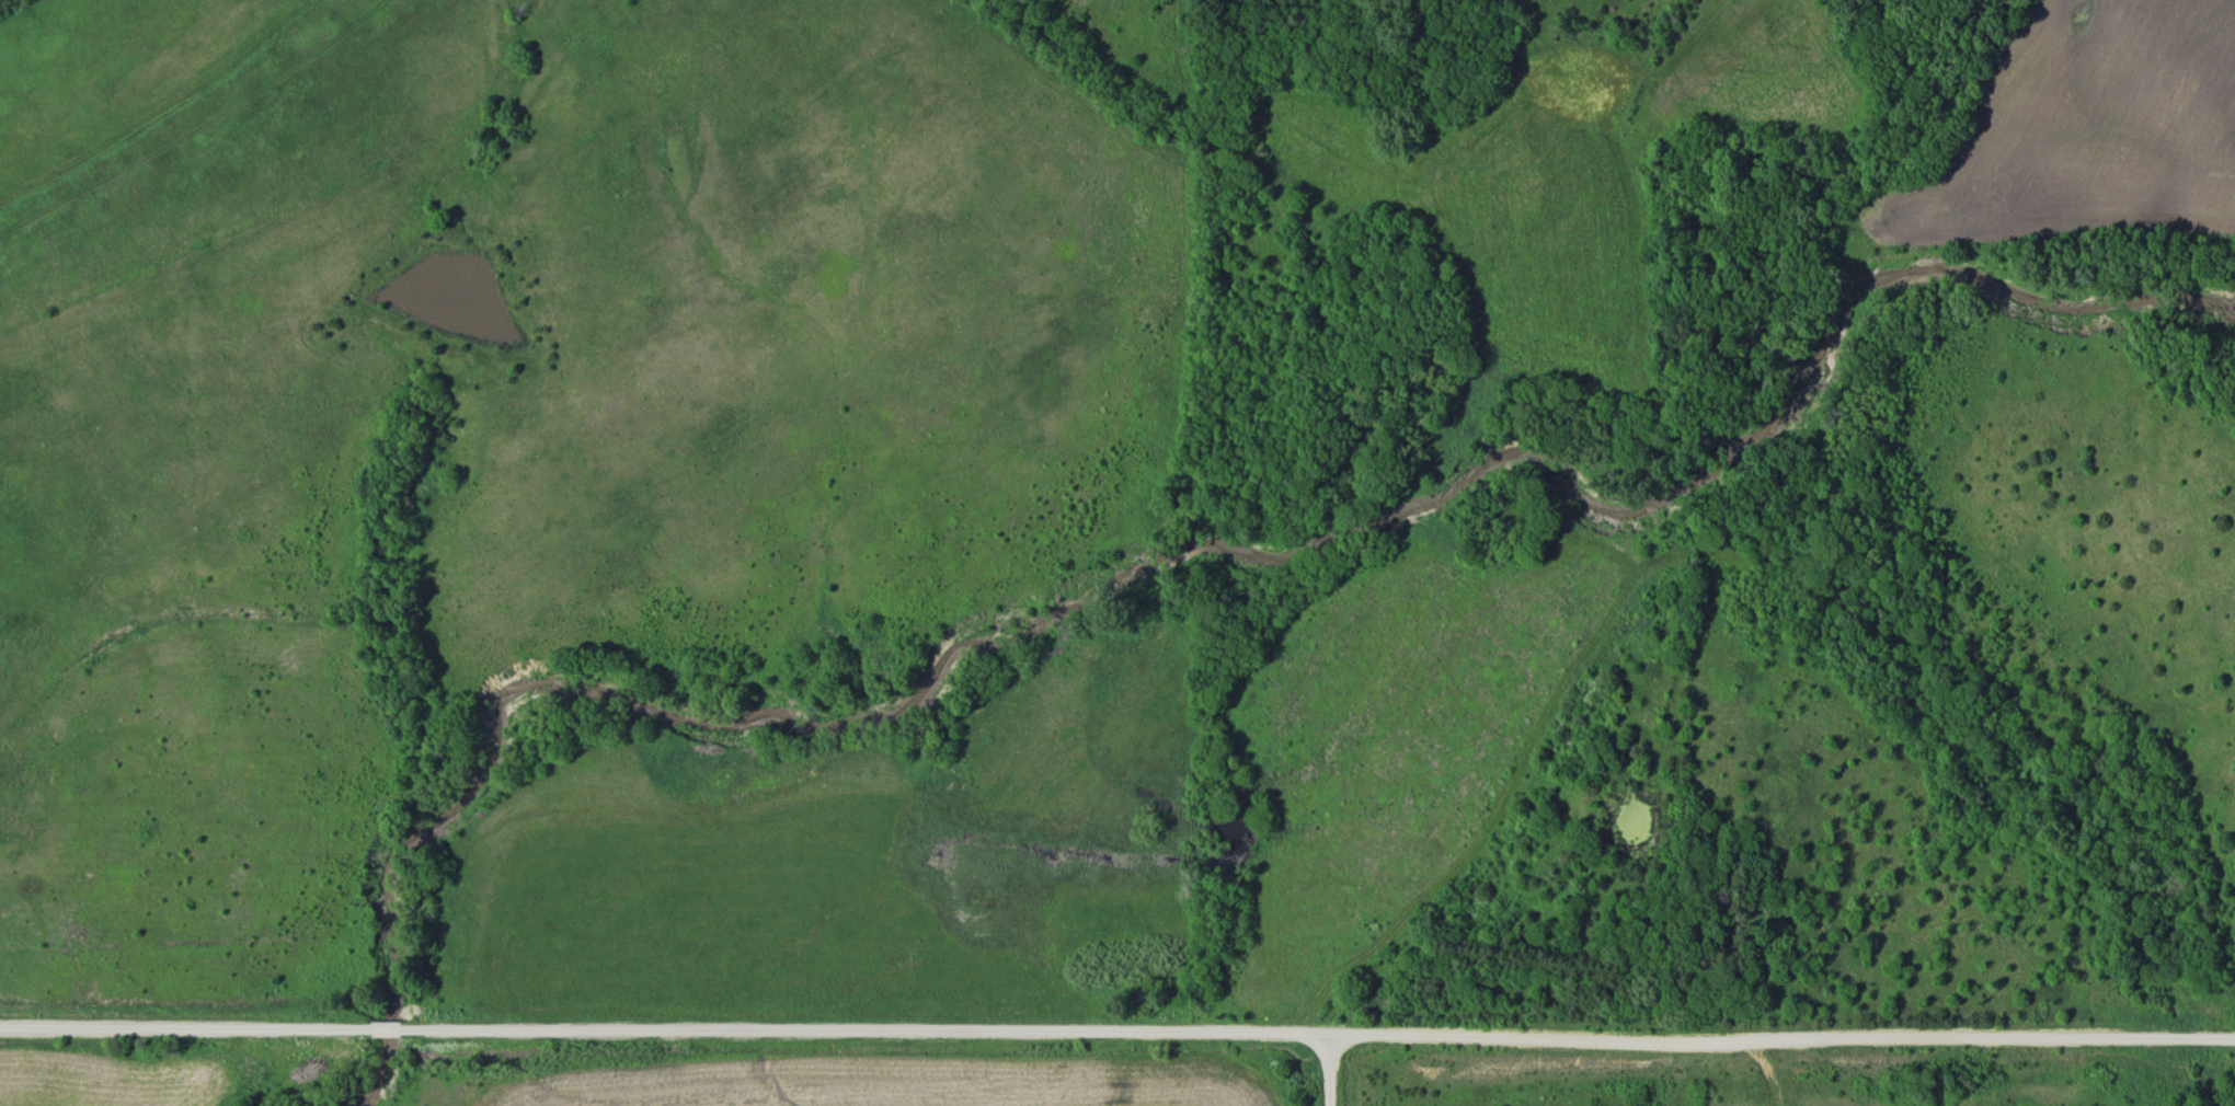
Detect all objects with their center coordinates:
road: (667, 1030)
road: (1784, 1035)
road: (1333, 1071)

